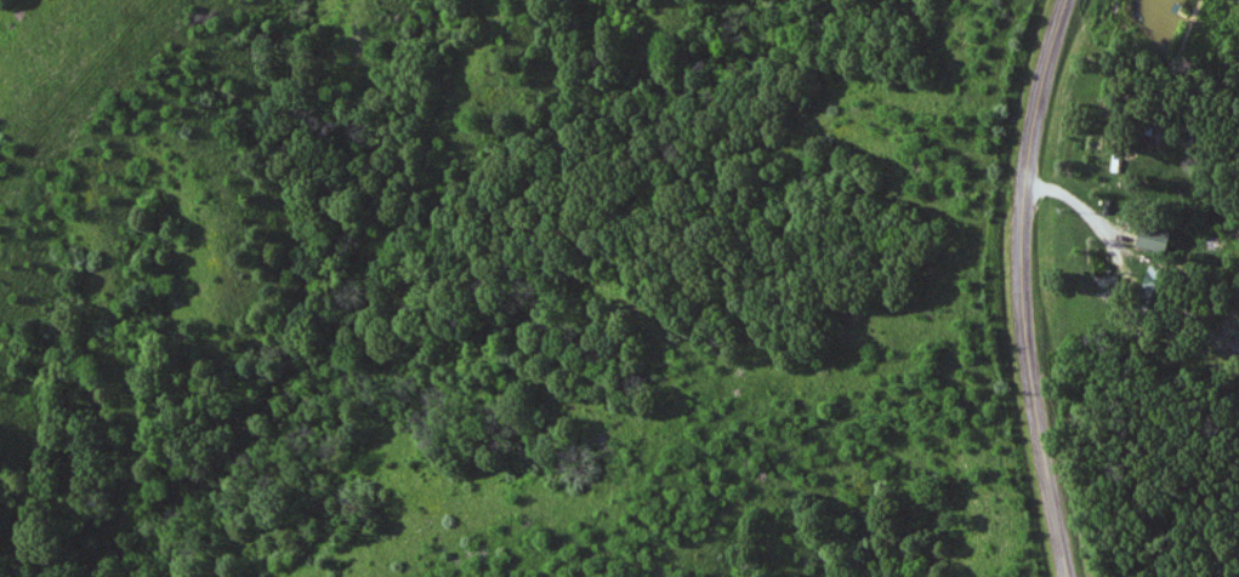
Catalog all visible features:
building: (1155, 238)
road: (1024, 288)

